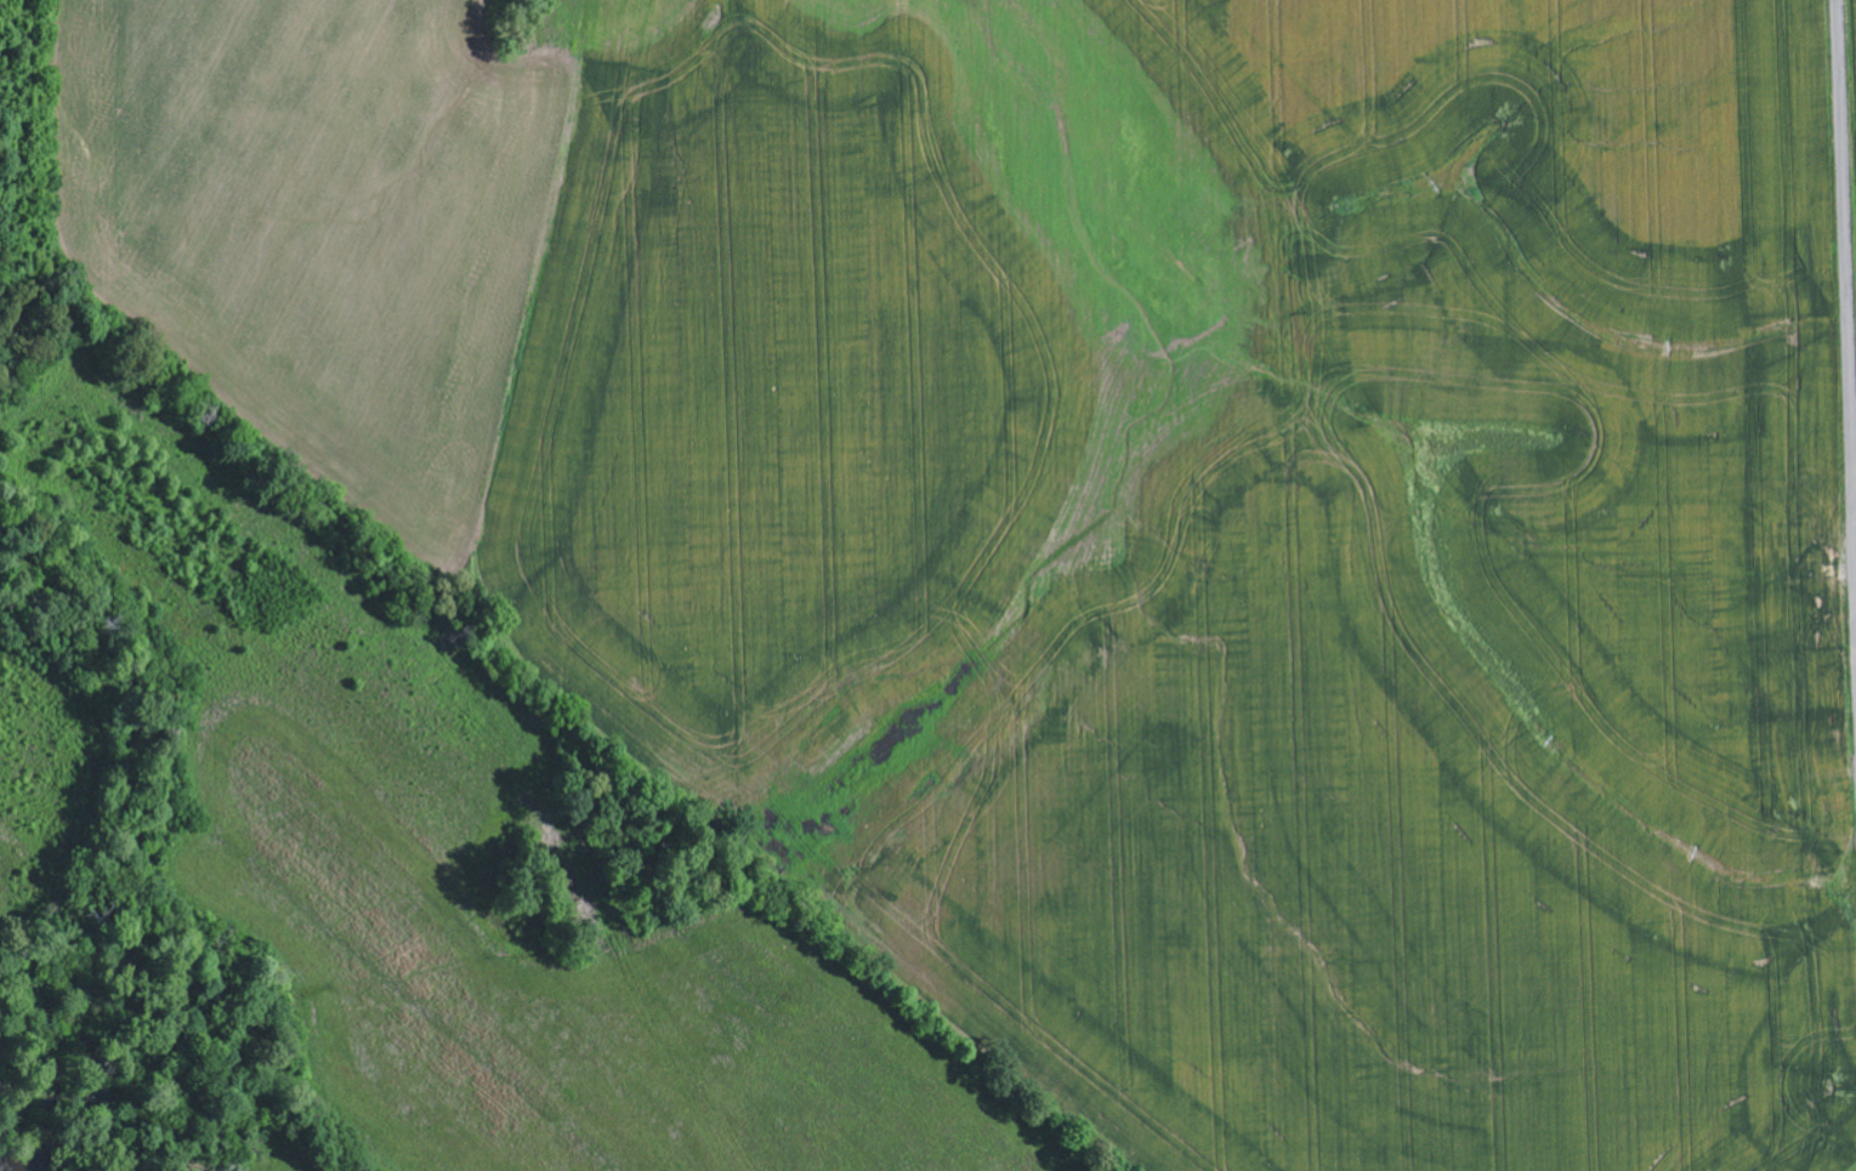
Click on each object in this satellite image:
road: (1848, 246)

